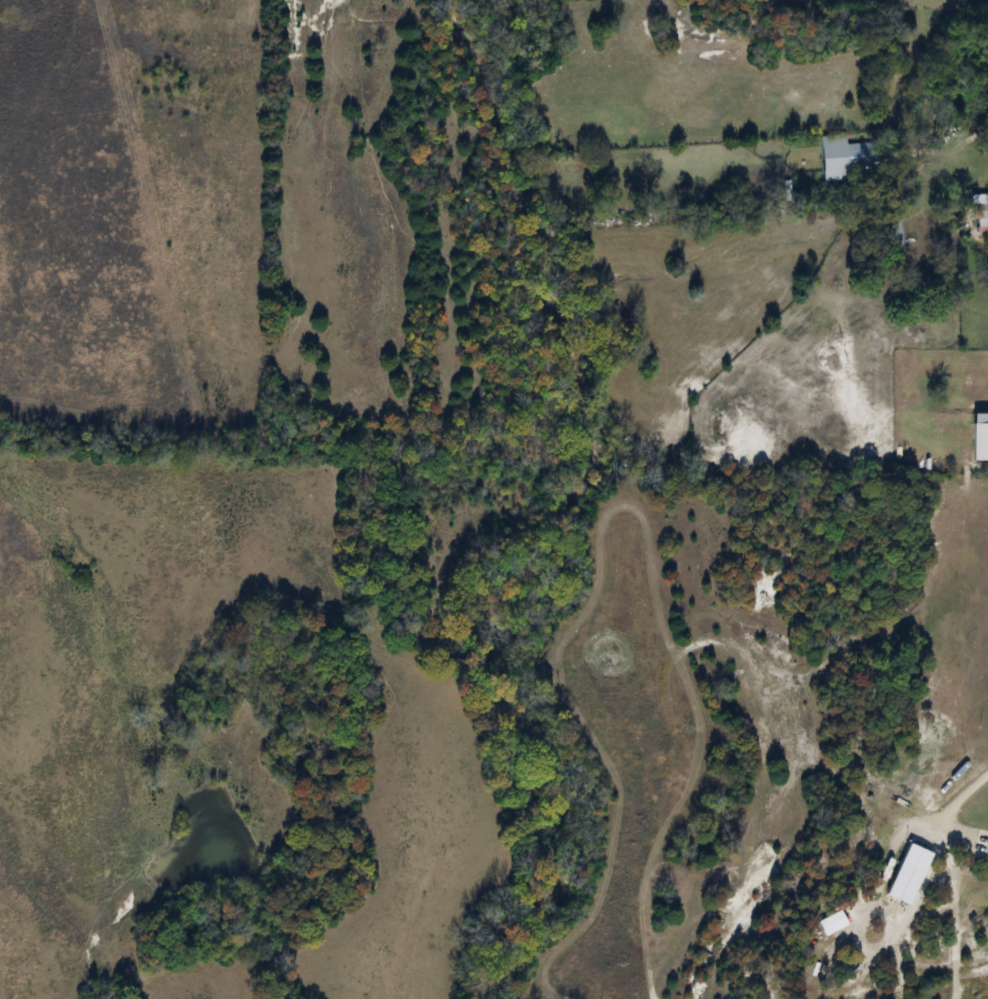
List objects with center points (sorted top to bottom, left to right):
road: (946, 148)
building: (844, 159)
building: (979, 211)
road: (956, 798)

